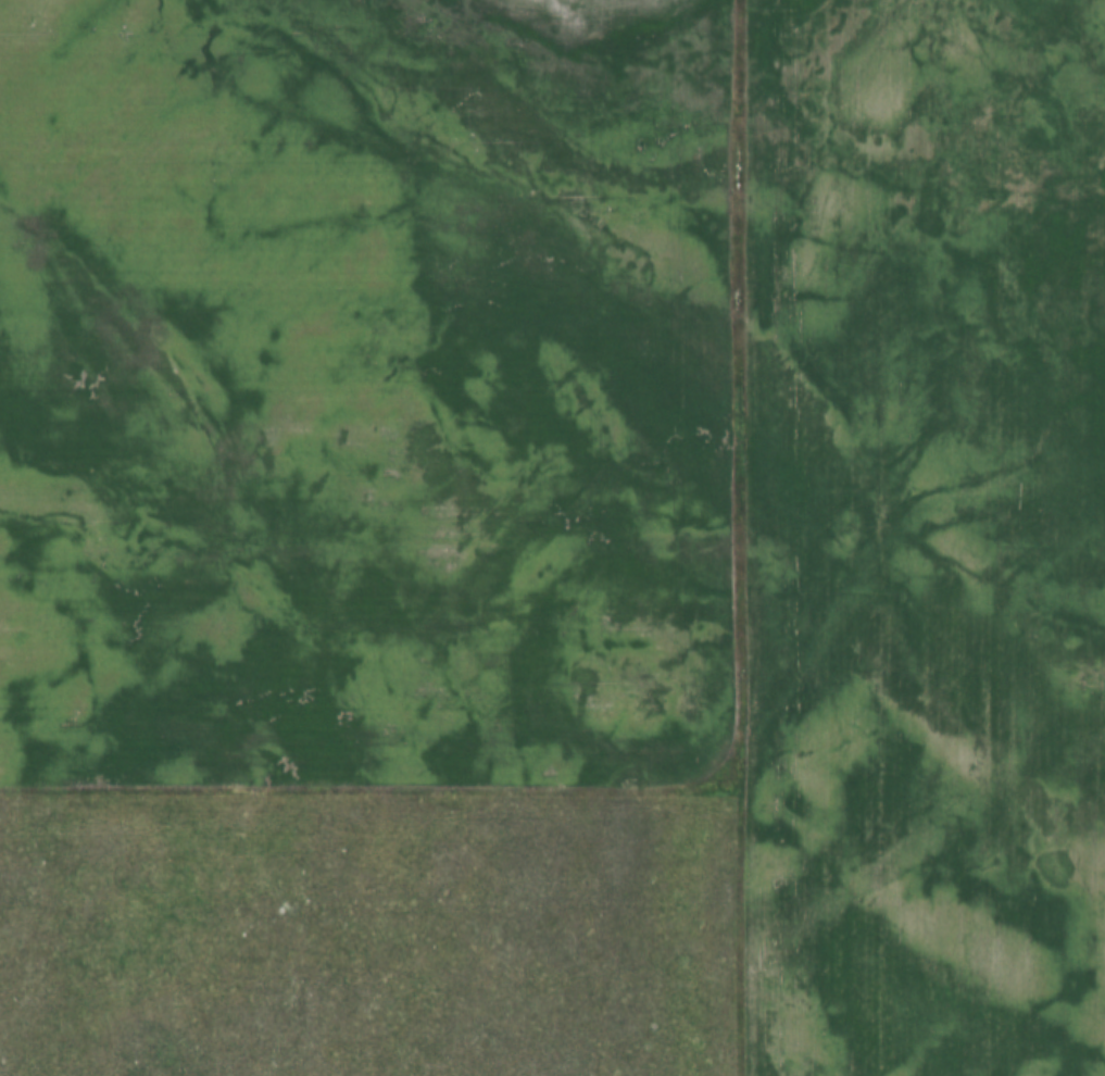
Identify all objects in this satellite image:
road: (757, 538)

